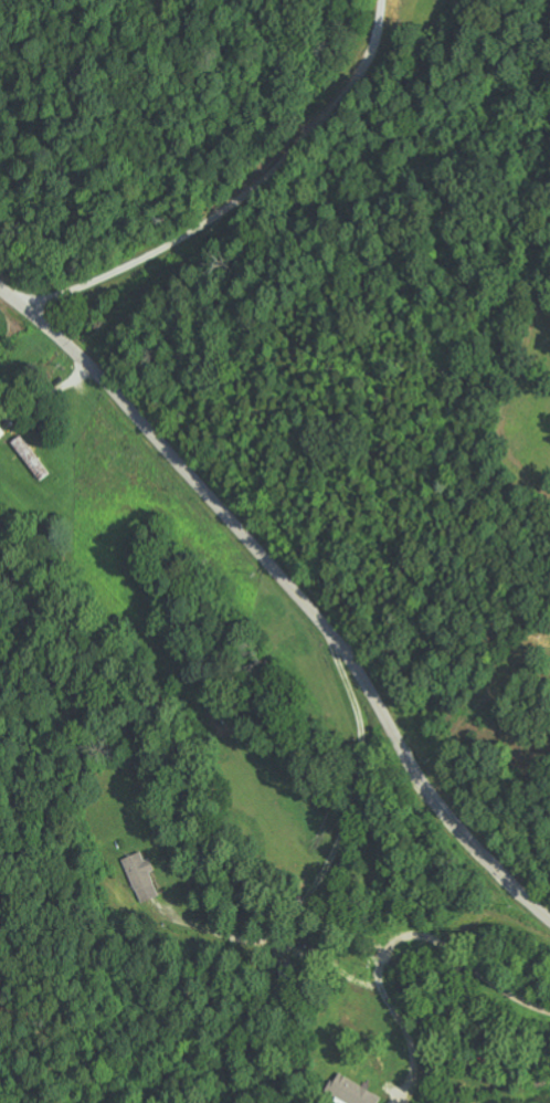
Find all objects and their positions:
building: (1, 431)
road: (290, 592)
building: (352, 1091)
building: (458, 1100)

